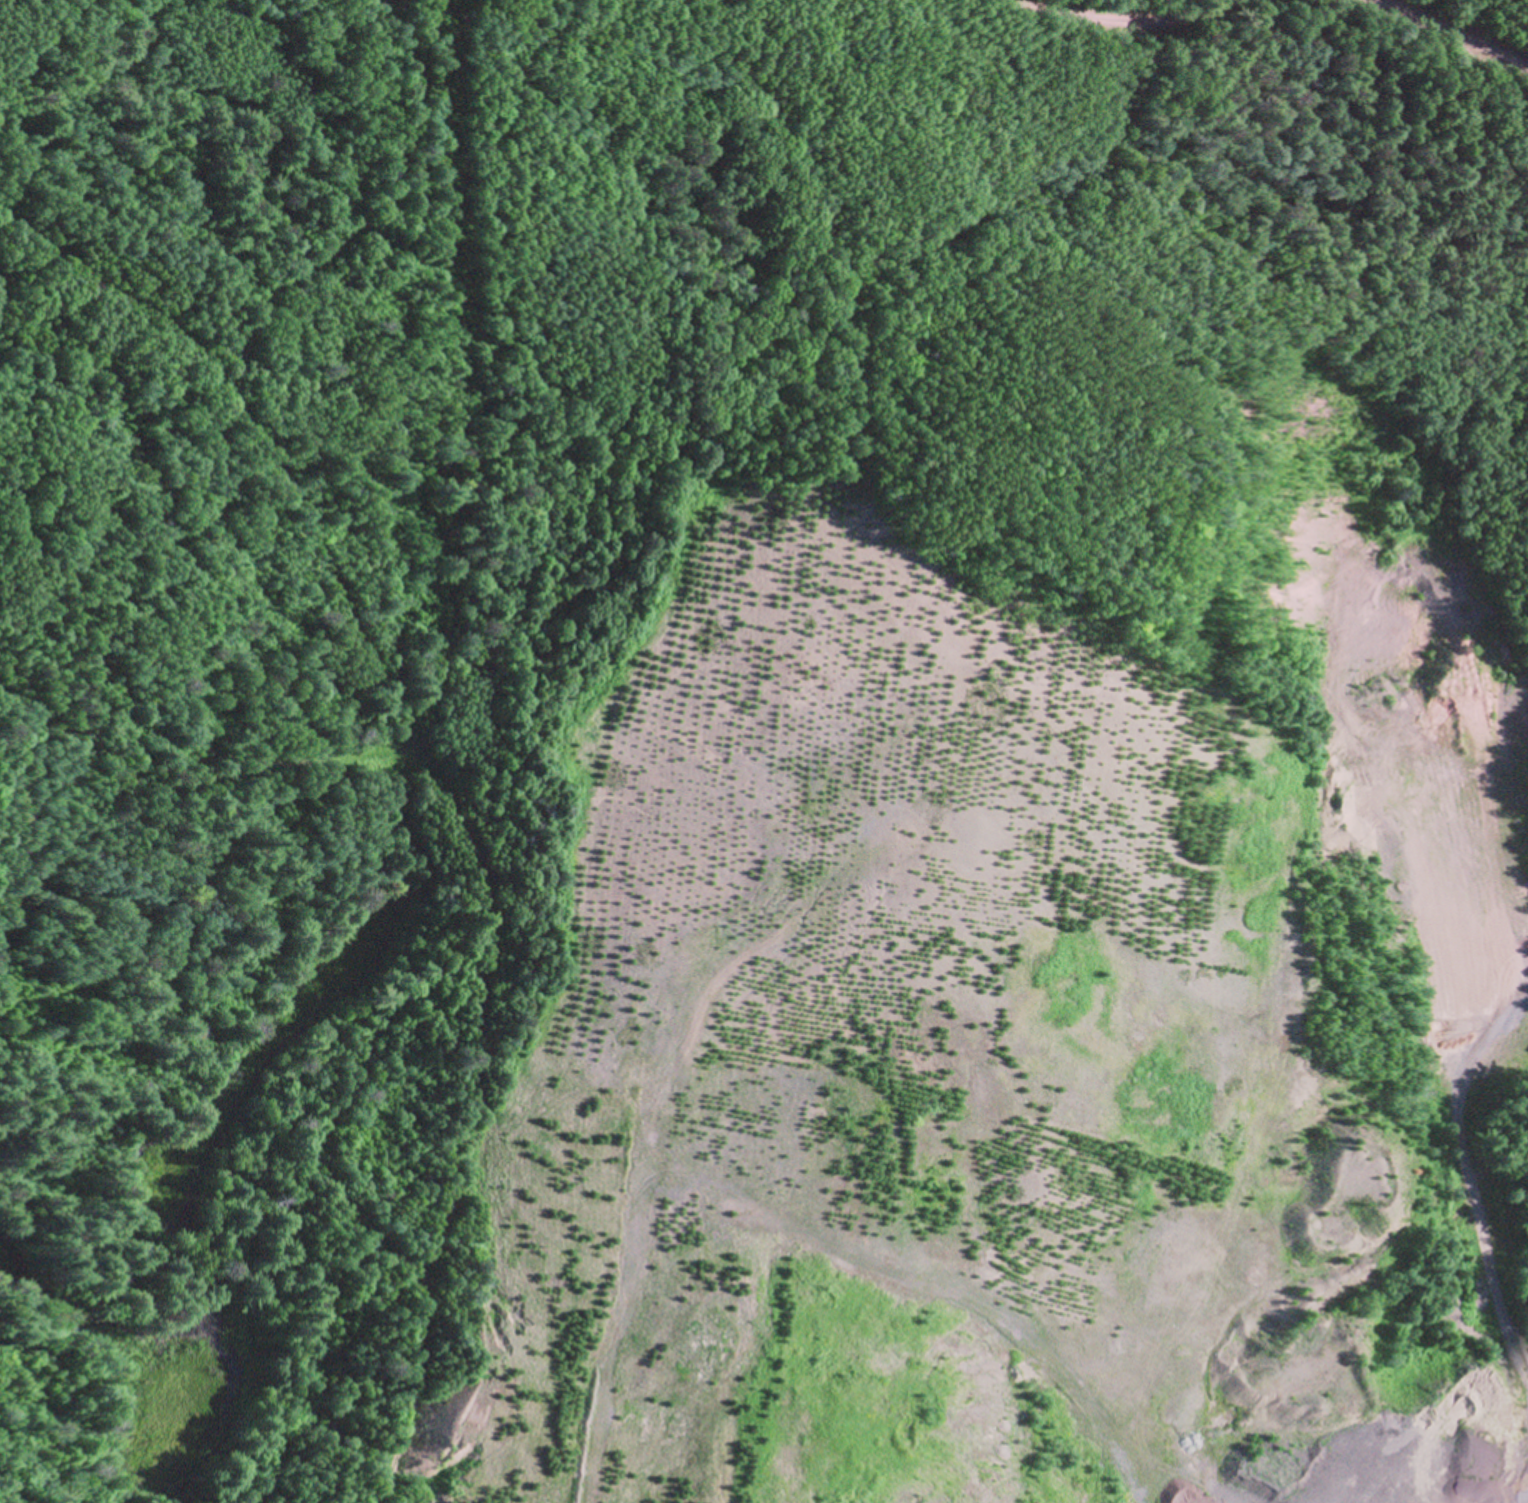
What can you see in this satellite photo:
road: (1129, 25)
road: (1451, 35)
road: (252, 437)
quarry: (764, 751)
road: (303, 759)
quarry: (1027, 1027)
road: (433, 1234)

